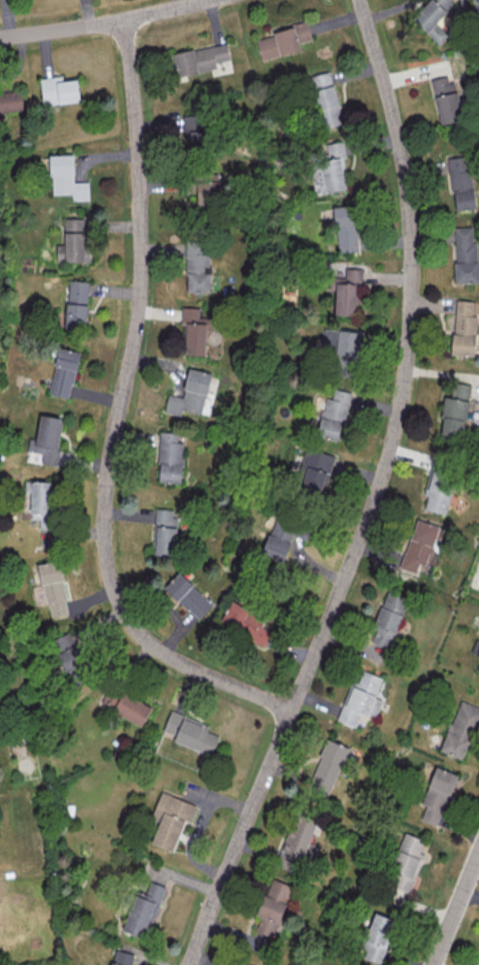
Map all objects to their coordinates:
building: (475, 5)
building: (432, 18)
road: (100, 22)
building: (281, 41)
building: (199, 58)
building: (58, 90)
building: (323, 99)
building: (445, 99)
building: (10, 101)
building: (193, 129)
building: (328, 168)
building: (66, 177)
building: (460, 183)
building: (209, 191)
building: (345, 228)
building: (73, 241)
building: (465, 254)
building: (196, 266)
building: (345, 290)
building: (76, 304)
building: (464, 327)
building: (195, 329)
building: (341, 344)
building: (63, 372)
building: (454, 410)
road: (117, 414)
building: (333, 414)
building: (46, 438)
building: (169, 458)
building: (314, 471)
building: (438, 492)
road: (373, 494)
building: (165, 531)
building: (277, 542)
building: (419, 545)
building: (51, 588)
building: (188, 595)
building: (388, 617)
building: (248, 622)
building: (478, 654)
building: (70, 657)
building: (477, 668)
building: (360, 697)
building: (125, 705)
building: (461, 729)
building: (190, 732)
building: (327, 768)
building: (437, 794)
building: (171, 819)
building: (297, 845)
building: (405, 863)
building: (272, 906)
road: (455, 908)
building: (143, 910)
building: (376, 937)
building: (122, 958)
building: (242, 963)

